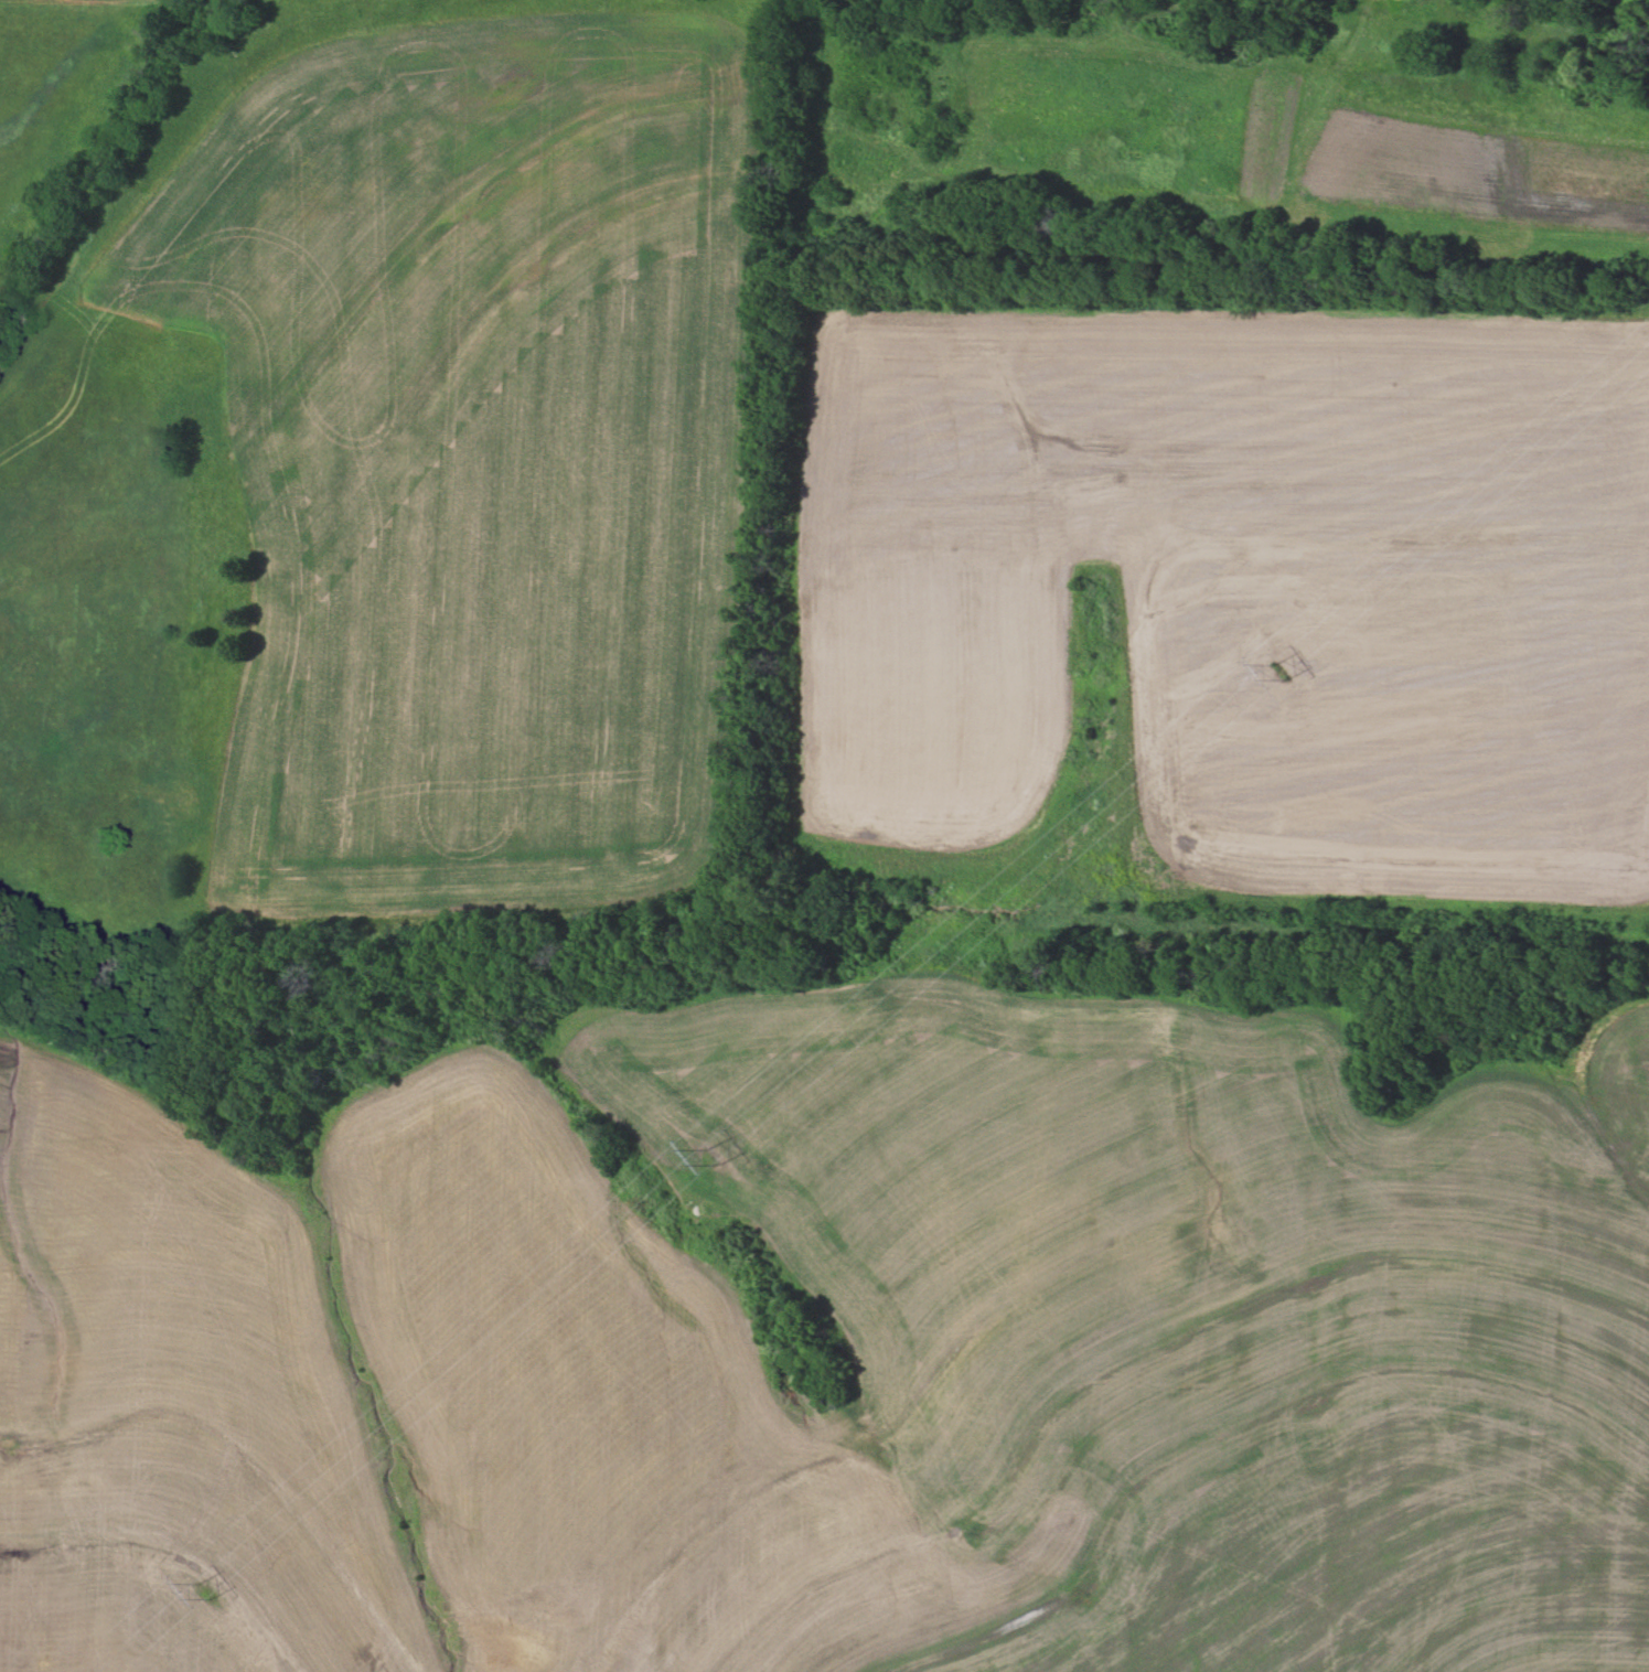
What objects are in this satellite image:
crop: (1626, 3)
crop: (55, 95)
crop: (1235, 124)
crop: (1643, 307)
crop: (389, 471)
crop: (1236, 594)
power tower: (1278, 679)
power tower: (719, 1166)
crop: (1238, 1319)
power tower: (211, 1603)

